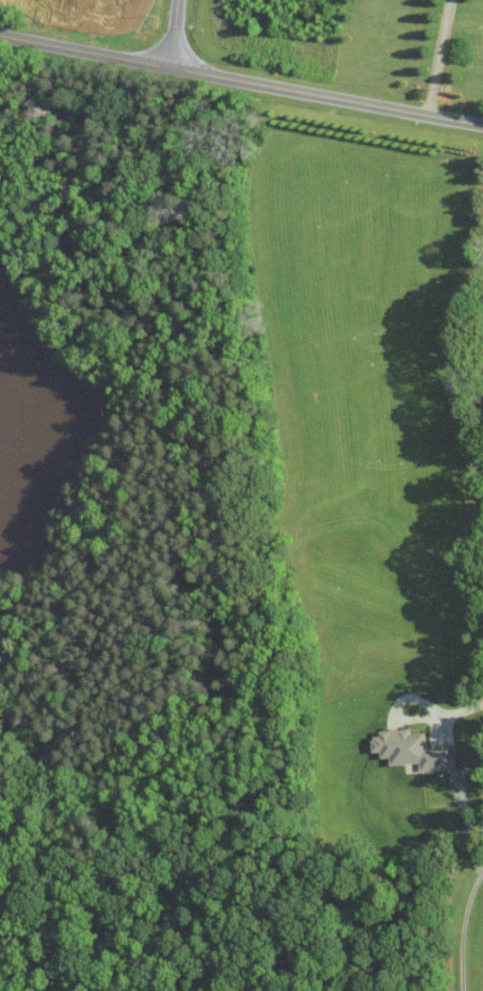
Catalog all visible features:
road: (175, 33)
road: (439, 57)
road: (241, 82)
road: (447, 705)
building: (409, 749)

